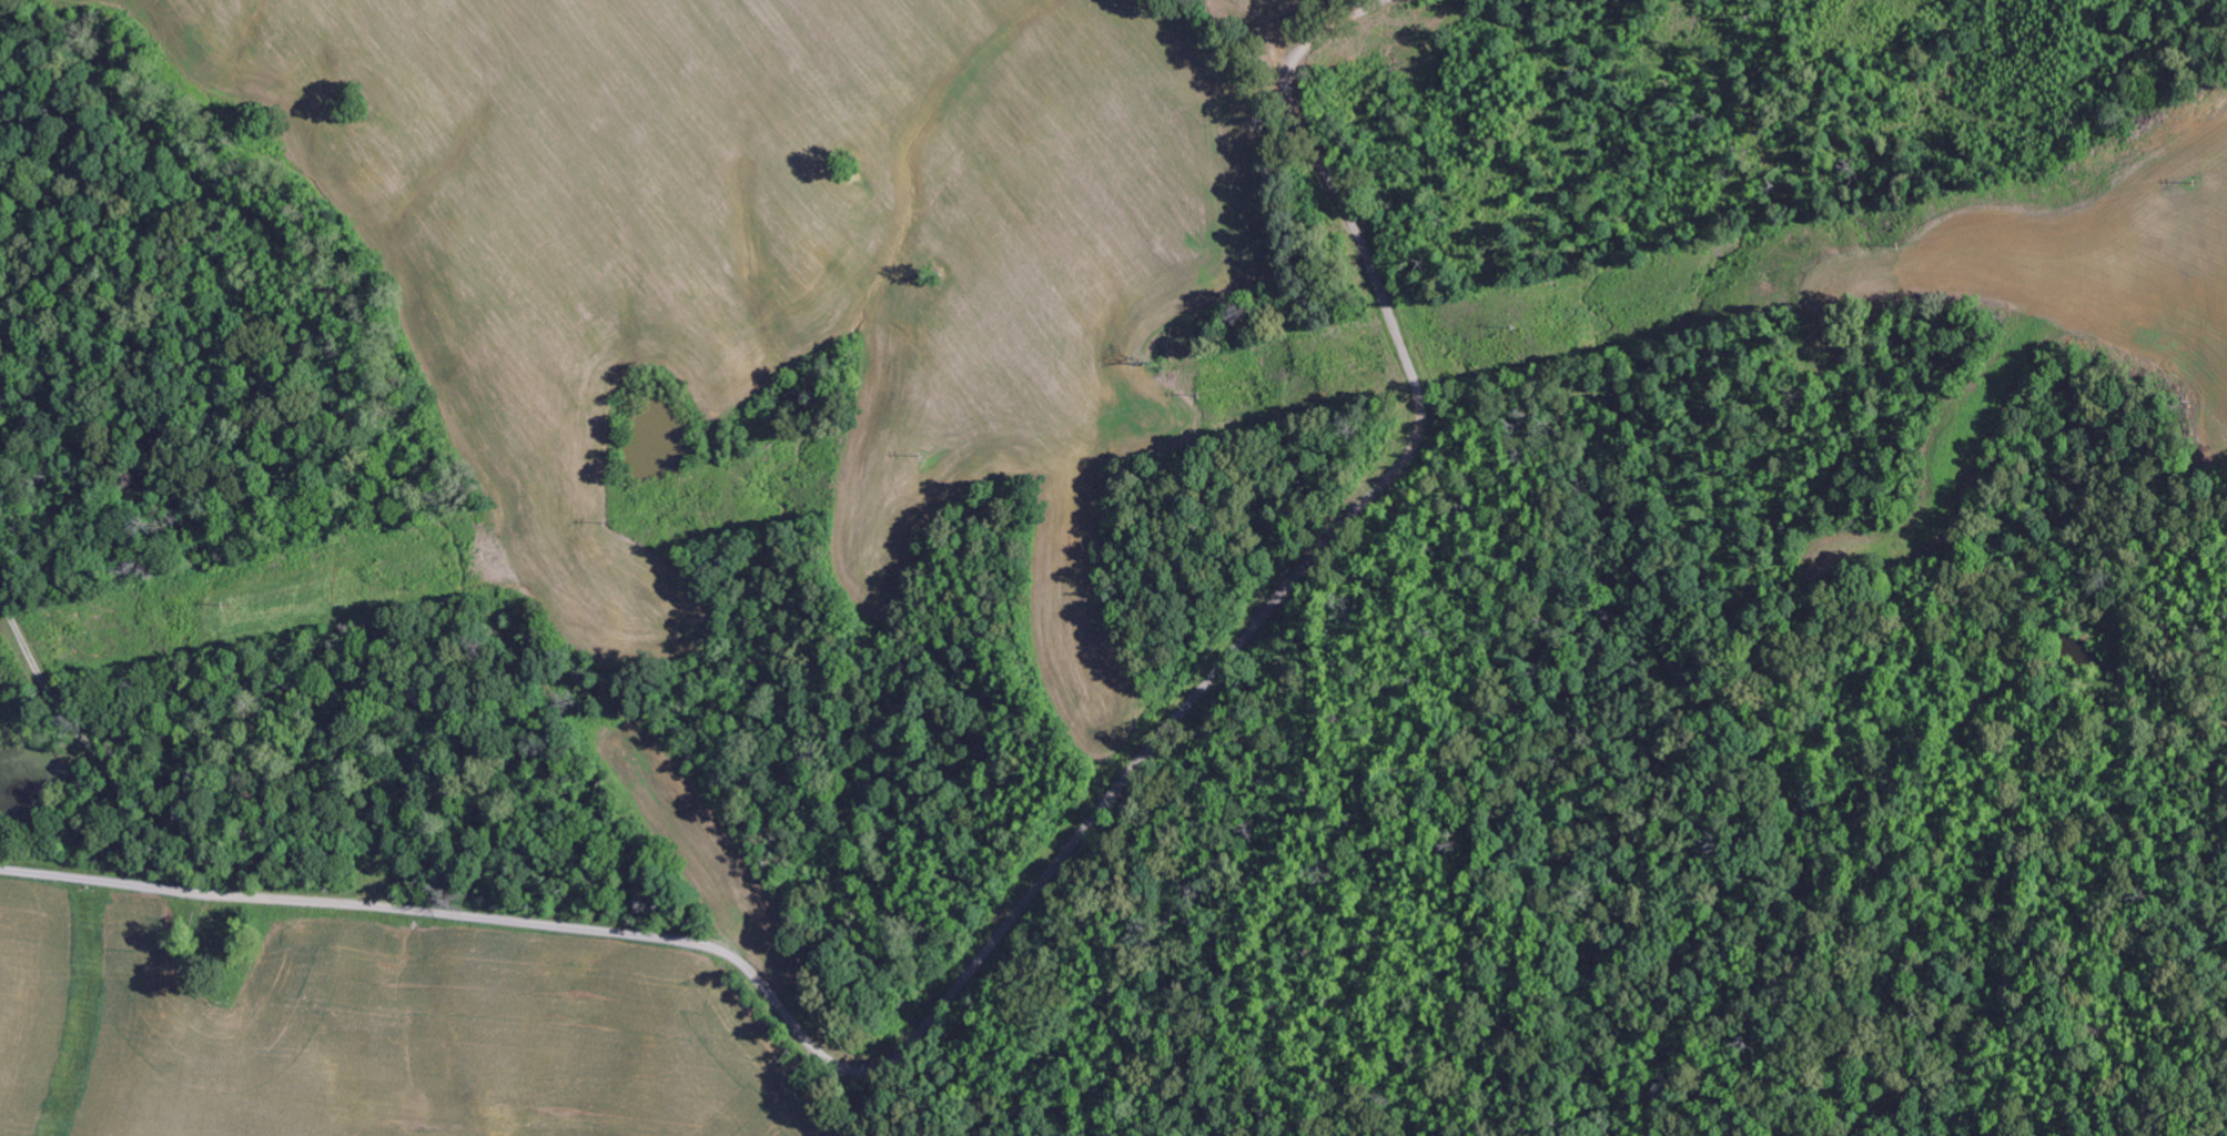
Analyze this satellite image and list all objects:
road: (1020, 915)

